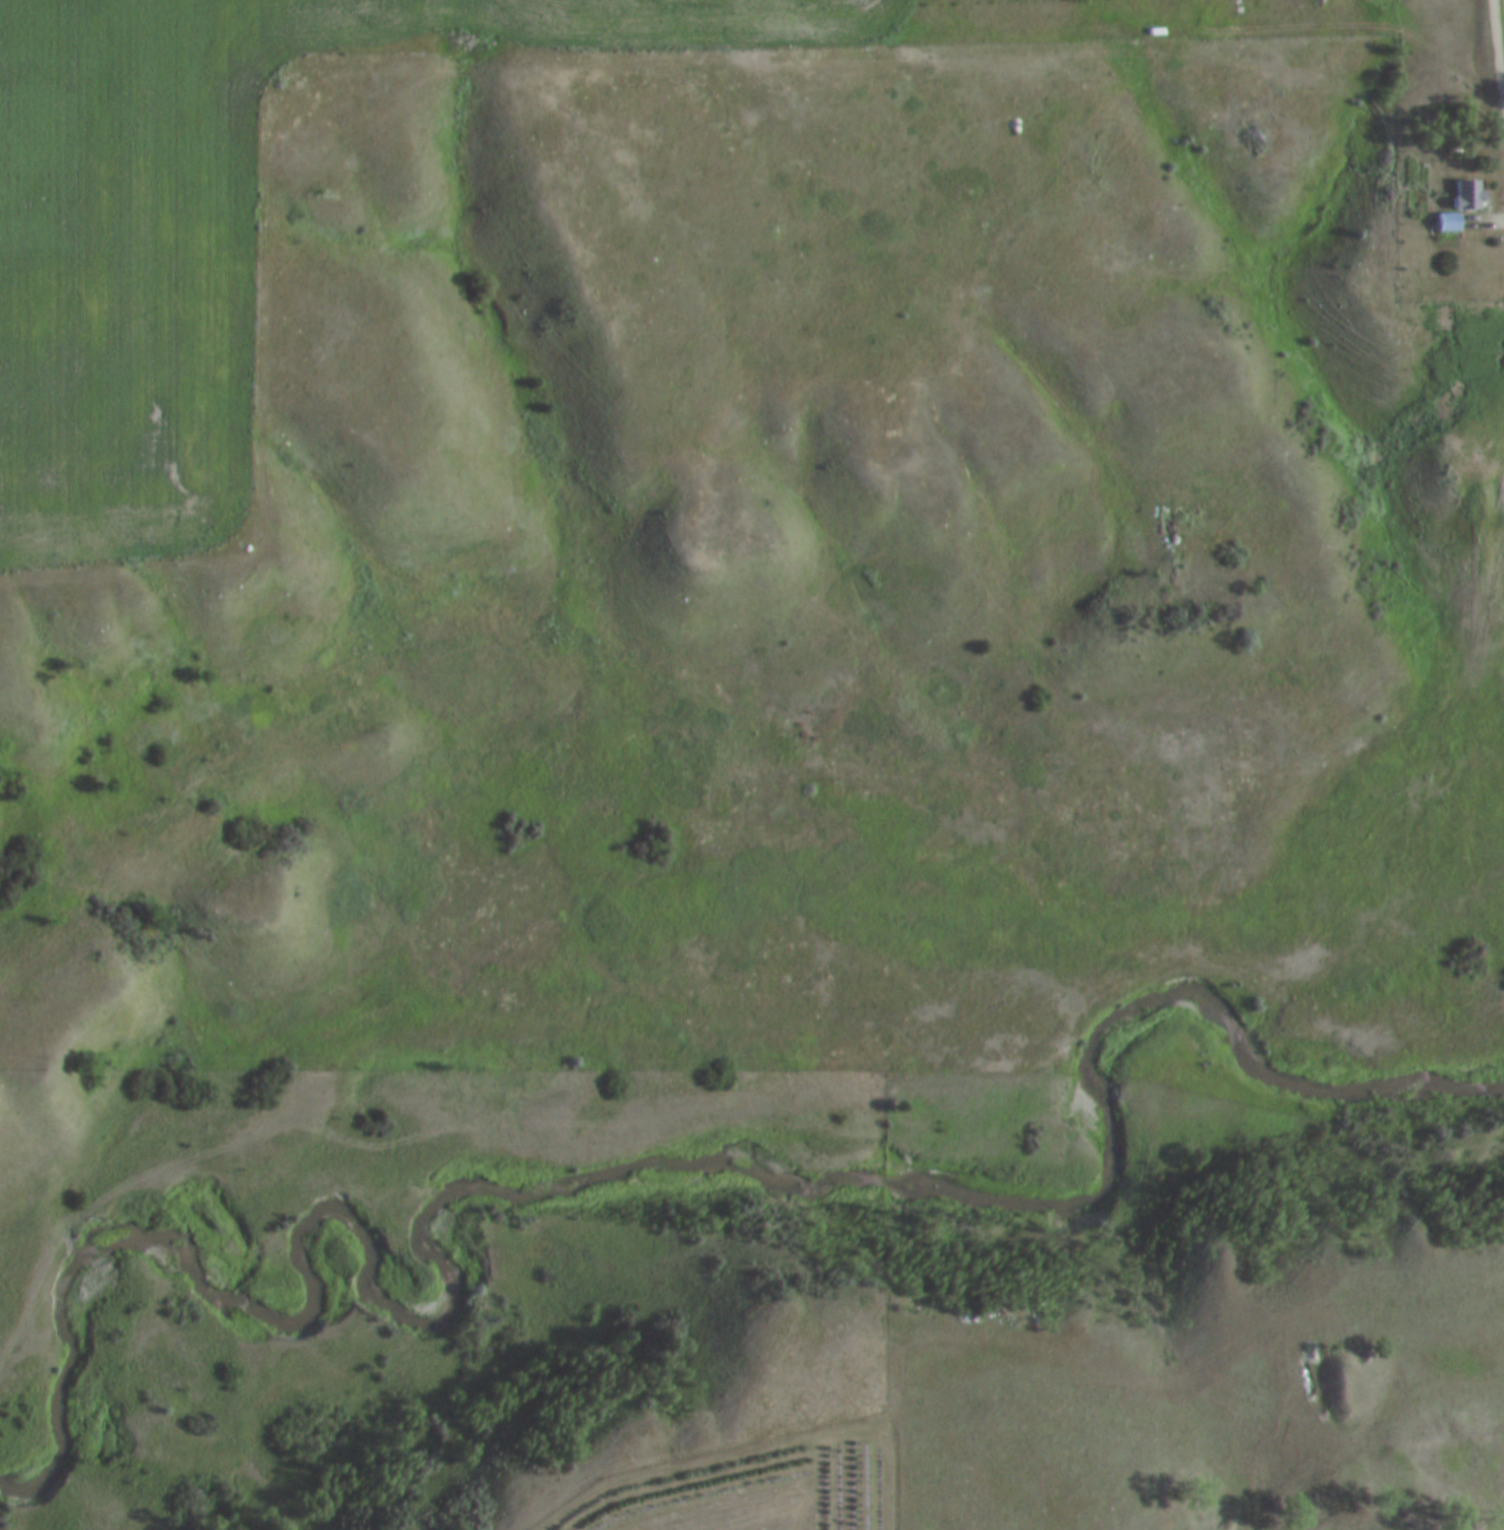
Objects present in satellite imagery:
road: (1499, 44)
building: (1467, 196)
building: (1446, 224)

